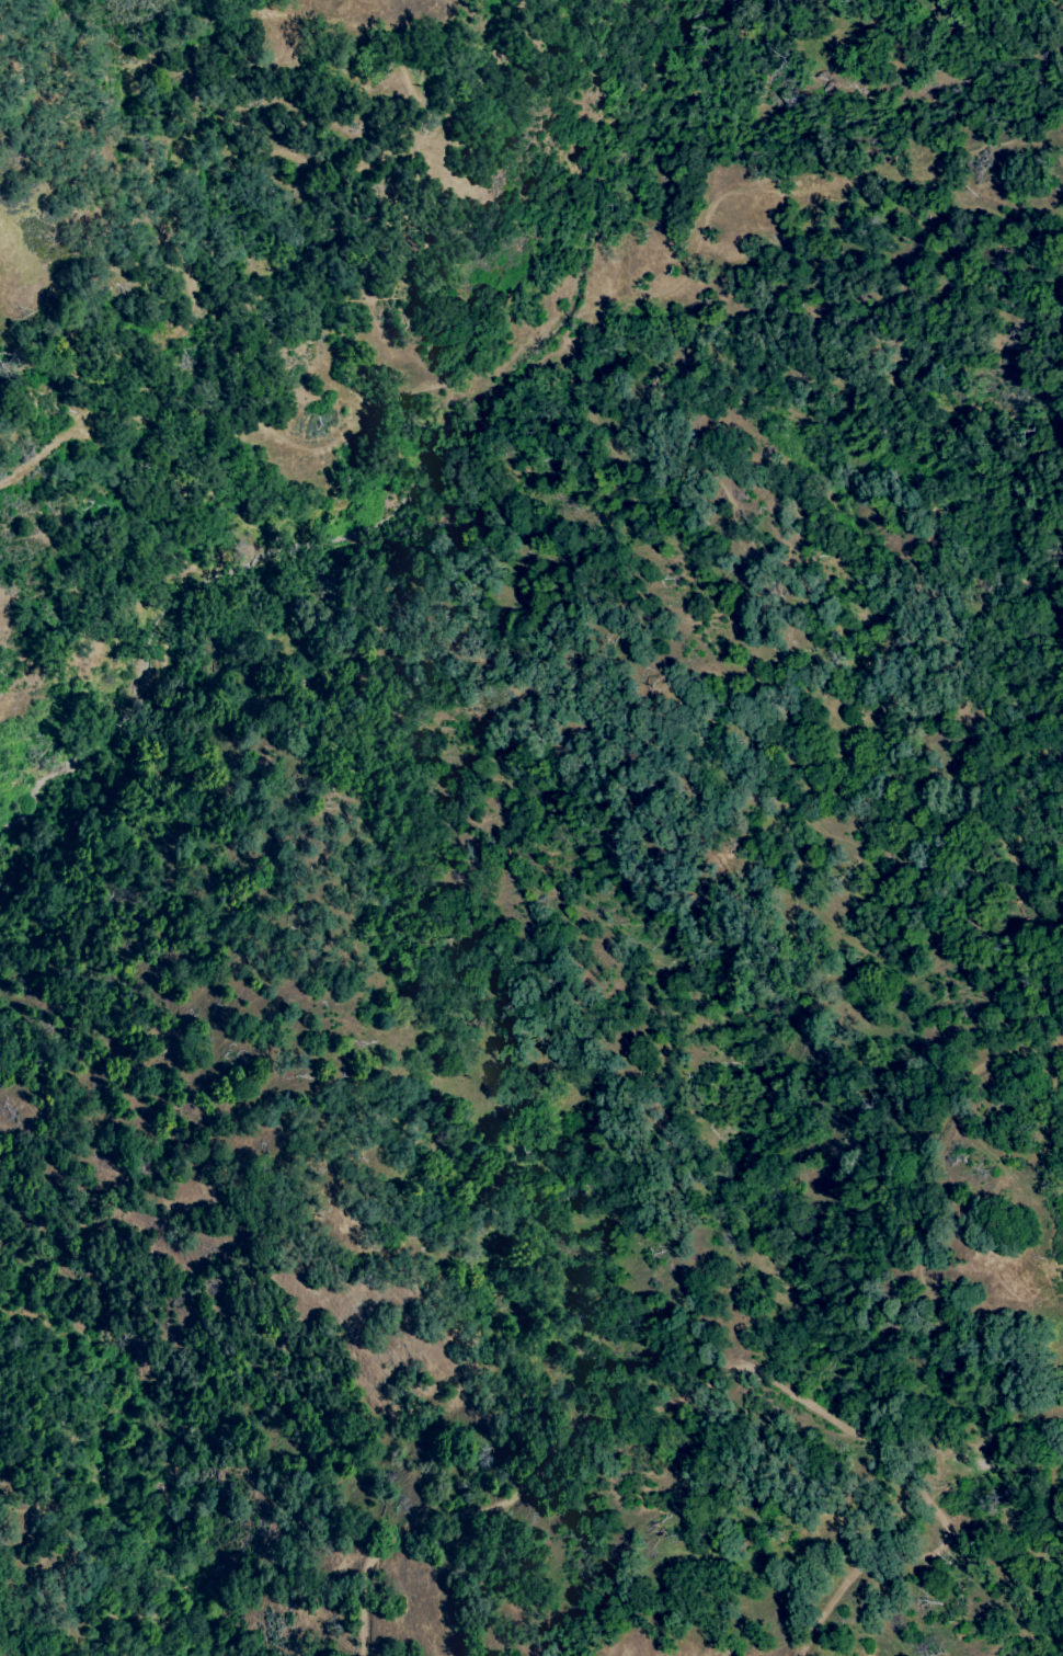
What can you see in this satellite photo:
road: (921, 1486)
road: (522, 1497)

